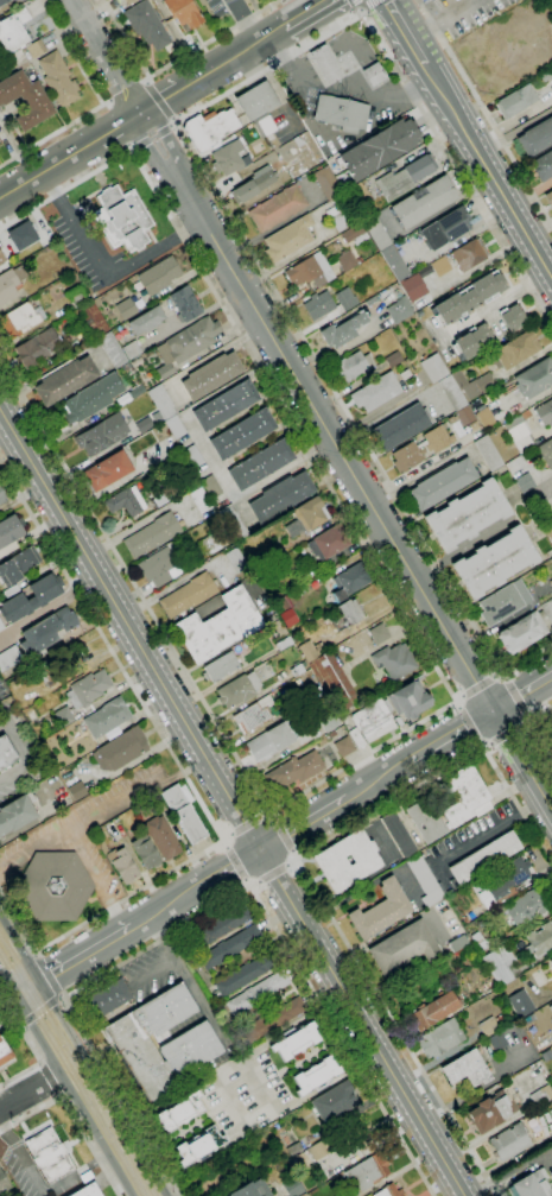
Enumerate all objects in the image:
building: (421, 0)
building: (423, 0)
building: (4, 1)
building: (129, 1)
road: (357, 5)
road: (367, 5)
road: (360, 12)
building: (184, 13)
road: (310, 14)
road: (442, 18)
road: (243, 23)
building: (147, 25)
building: (13, 30)
road: (406, 31)
road: (93, 39)
building: (36, 49)
road: (70, 52)
road: (240, 57)
building: (18, 61)
road: (173, 62)
building: (325, 64)
building: (374, 74)
building: (58, 80)
road: (146, 81)
building: (551, 89)
road: (126, 90)
road: (135, 91)
road: (173, 96)
building: (25, 100)
road: (120, 100)
road: (157, 101)
building: (256, 101)
building: (516, 101)
road: (484, 112)
building: (342, 114)
road: (140, 115)
road: (173, 121)
road: (173, 126)
building: (265, 127)
building: (209, 128)
road: (113, 131)
road: (53, 132)
road: (154, 137)
building: (535, 138)
road: (164, 139)
building: (297, 141)
road: (147, 148)
building: (380, 148)
road: (134, 150)
building: (229, 158)
building: (543, 166)
road: (49, 170)
road: (488, 170)
road: (203, 171)
building: (405, 177)
building: (326, 183)
building: (254, 184)
building: (359, 197)
building: (548, 198)
building: (424, 203)
building: (278, 208)
building: (338, 217)
building: (122, 219)
road: (74, 227)
building: (445, 228)
building: (376, 233)
building: (353, 234)
building: (23, 235)
building: (287, 239)
road: (153, 249)
building: (469, 254)
building: (1, 259)
building: (347, 261)
building: (394, 264)
building: (440, 266)
building: (310, 271)
building: (158, 276)
building: (9, 284)
building: (413, 287)
building: (387, 296)
building: (76, 297)
building: (469, 297)
building: (345, 298)
building: (369, 300)
building: (185, 304)
road: (494, 304)
building: (318, 305)
building: (126, 309)
building: (399, 310)
building: (512, 318)
building: (20, 319)
building: (93, 319)
building: (146, 321)
building: (342, 331)
building: (192, 338)
building: (474, 341)
building: (37, 348)
building: (516, 349)
building: (113, 350)
building: (132, 350)
building: (392, 359)
building: (353, 366)
building: (433, 368)
building: (165, 371)
building: (404, 374)
building: (211, 375)
building: (534, 378)
building: (64, 380)
building: (472, 384)
building: (376, 392)
building: (451, 393)
building: (91, 398)
building: (161, 401)
building: (224, 405)
building: (545, 413)
building: (463, 417)
building: (484, 417)
building: (154, 418)
building: (142, 424)
building: (175, 428)
building: (400, 428)
building: (242, 434)
building: (102, 435)
building: (519, 435)
road: (332, 439)
building: (437, 439)
building: (488, 453)
building: (544, 454)
building: (408, 455)
building: (192, 457)
road: (209, 457)
building: (260, 464)
building: (107, 472)
road: (119, 481)
building: (442, 483)
building: (525, 483)
building: (210, 487)
building: (280, 496)
building: (2, 498)
building: (201, 500)
building: (126, 501)
building: (310, 514)
building: (467, 515)
building: (233, 523)
building: (547, 527)
building: (9, 530)
building: (152, 534)
building: (328, 543)
building: (236, 561)
building: (495, 562)
building: (19, 564)
building: (158, 567)
building: (349, 582)
building: (551, 582)
building: (188, 595)
building: (31, 597)
building: (503, 602)
building: (285, 610)
building: (345, 615)
building: (0, 626)
building: (218, 626)
road: (129, 628)
building: (46, 631)
building: (524, 632)
building: (379, 633)
building: (281, 643)
building: (311, 651)
building: (8, 657)
building: (394, 662)
building: (59, 663)
building: (220, 666)
building: (297, 669)
road: (501, 673)
building: (334, 682)
road: (445, 683)
road: (477, 686)
building: (237, 690)
road: (521, 692)
road: (516, 696)
building: (82, 697)
road: (459, 698)
building: (408, 700)
road: (457, 704)
traffic signals: (493, 710)
building: (254, 715)
road: (529, 715)
building: (107, 717)
building: (373, 721)
road: (531, 721)
building: (329, 723)
road: (469, 724)
road: (538, 724)
road: (509, 733)
road: (451, 735)
building: (356, 739)
building: (271, 741)
road: (481, 743)
road: (488, 745)
road: (169, 747)
building: (344, 747)
building: (121, 749)
road: (25, 752)
building: (6, 754)
road: (521, 760)
road: (195, 765)
building: (294, 771)
road: (379, 778)
building: (77, 791)
building: (470, 804)
building: (184, 812)
building: (17, 814)
road: (89, 815)
road: (266, 817)
road: (272, 817)
road: (304, 823)
road: (246, 825)
road: (491, 831)
road: (283, 834)
building: (161, 837)
road: (228, 837)
road: (226, 843)
building: (145, 853)
road: (293, 854)
building: (412, 859)
building: (484, 859)
building: (329, 860)
road: (235, 862)
road: (291, 862)
building: (122, 865)
road: (89, 868)
road: (224, 869)
road: (272, 873)
road: (306, 875)
building: (506, 877)
road: (248, 882)
road: (255, 884)
building: (55, 886)
road: (287, 896)
building: (526, 906)
road: (211, 907)
road: (160, 909)
building: (380, 910)
road: (120, 918)
road: (15, 922)
building: (223, 924)
building: (540, 938)
building: (458, 943)
building: (230, 947)
road: (20, 948)
building: (404, 948)
road: (37, 954)
road: (85, 954)
building: (551, 958)
building: (551, 961)
building: (499, 963)
road: (153, 970)
parking lot: (148, 973)
building: (245, 974)
road: (47, 975)
road: (185, 977)
traffic signals: (40, 982)
road: (26, 989)
building: (256, 992)
road: (62, 996)
traffic signals: (14, 999)
building: (109, 999)
building: (520, 1002)
road: (40, 1008)
building: (550, 1008)
building: (433, 1011)
building: (272, 1018)
road: (19, 1023)
building: (488, 1026)
building: (440, 1038)
building: (497, 1042)
building: (298, 1043)
building: (191, 1045)
road: (32, 1048)
building: (4, 1050)
road: (234, 1056)
road: (40, 1063)
railway: (76, 1063)
road: (389, 1068)
building: (467, 1069)
railway: (71, 1072)
building: (315, 1076)
road: (50, 1077)
road: (68, 1084)
road: (255, 1084)
road: (102, 1088)
railway: (85, 1089)
road: (31, 1093)
road: (58, 1095)
road: (228, 1100)
building: (334, 1101)
building: (489, 1113)
building: (179, 1114)
road: (71, 1116)
building: (509, 1141)
building: (198, 1146)
building: (321, 1148)
building: (49, 1157)
road: (23, 1158)
building: (366, 1172)
road: (78, 1177)
building: (4, 1183)
building: (531, 1185)
building: (249, 1189)
building: (88, 1191)
building: (389, 1191)

